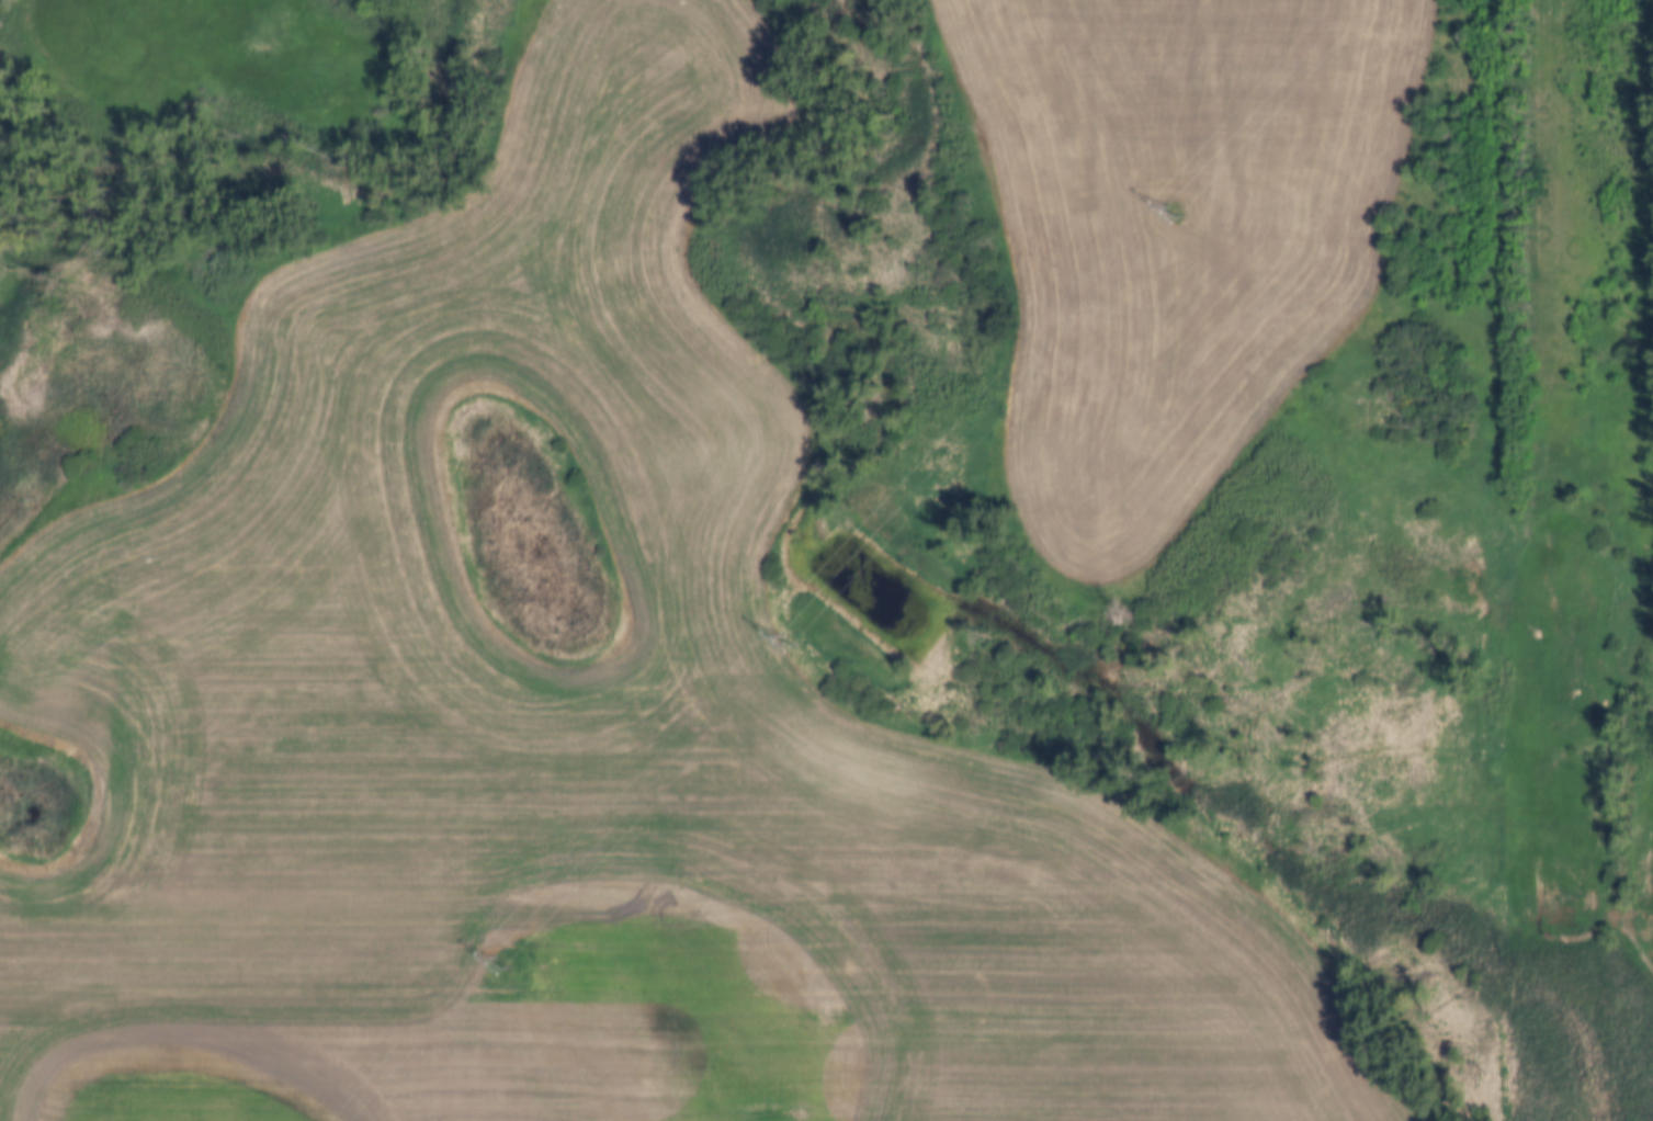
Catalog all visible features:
power tower: (1175, 211)
power tower: (499, 963)

